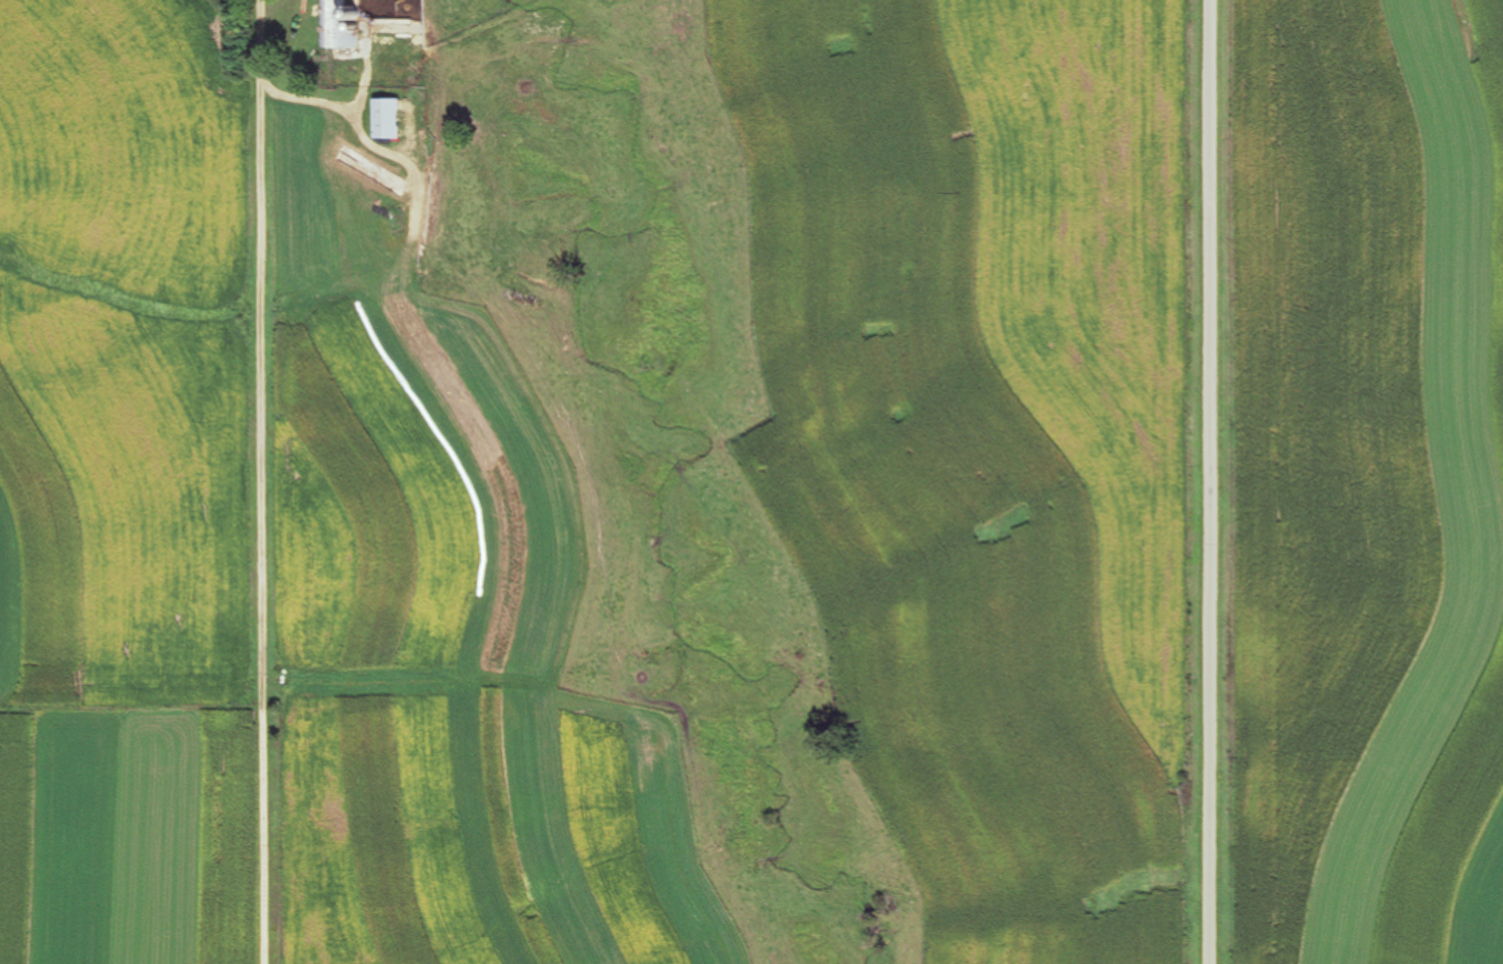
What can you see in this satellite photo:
building: (341, 24)
building: (390, 119)
road: (266, 482)
road: (1194, 482)

